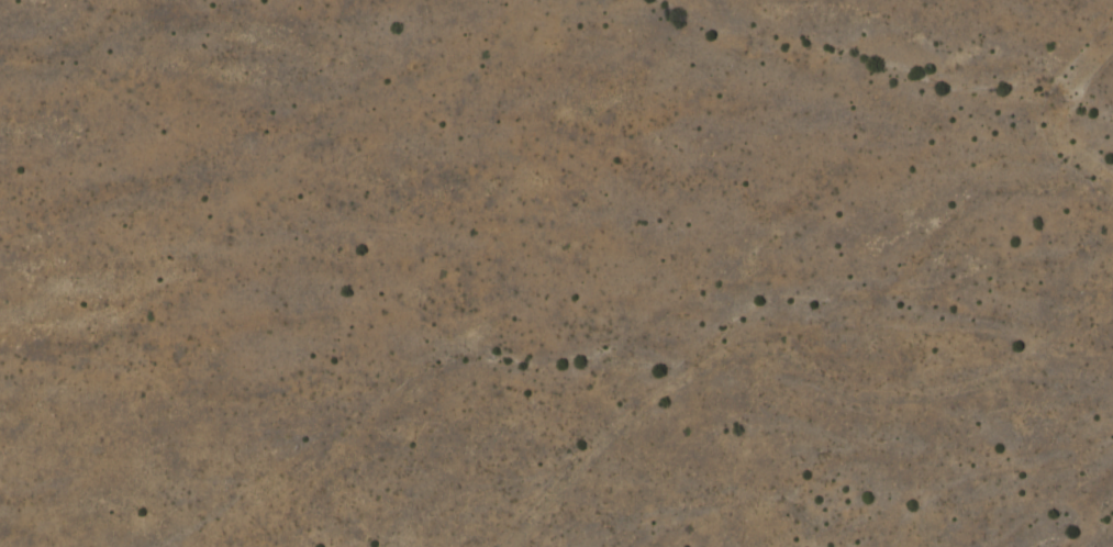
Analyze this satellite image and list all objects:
road: (307, 276)

